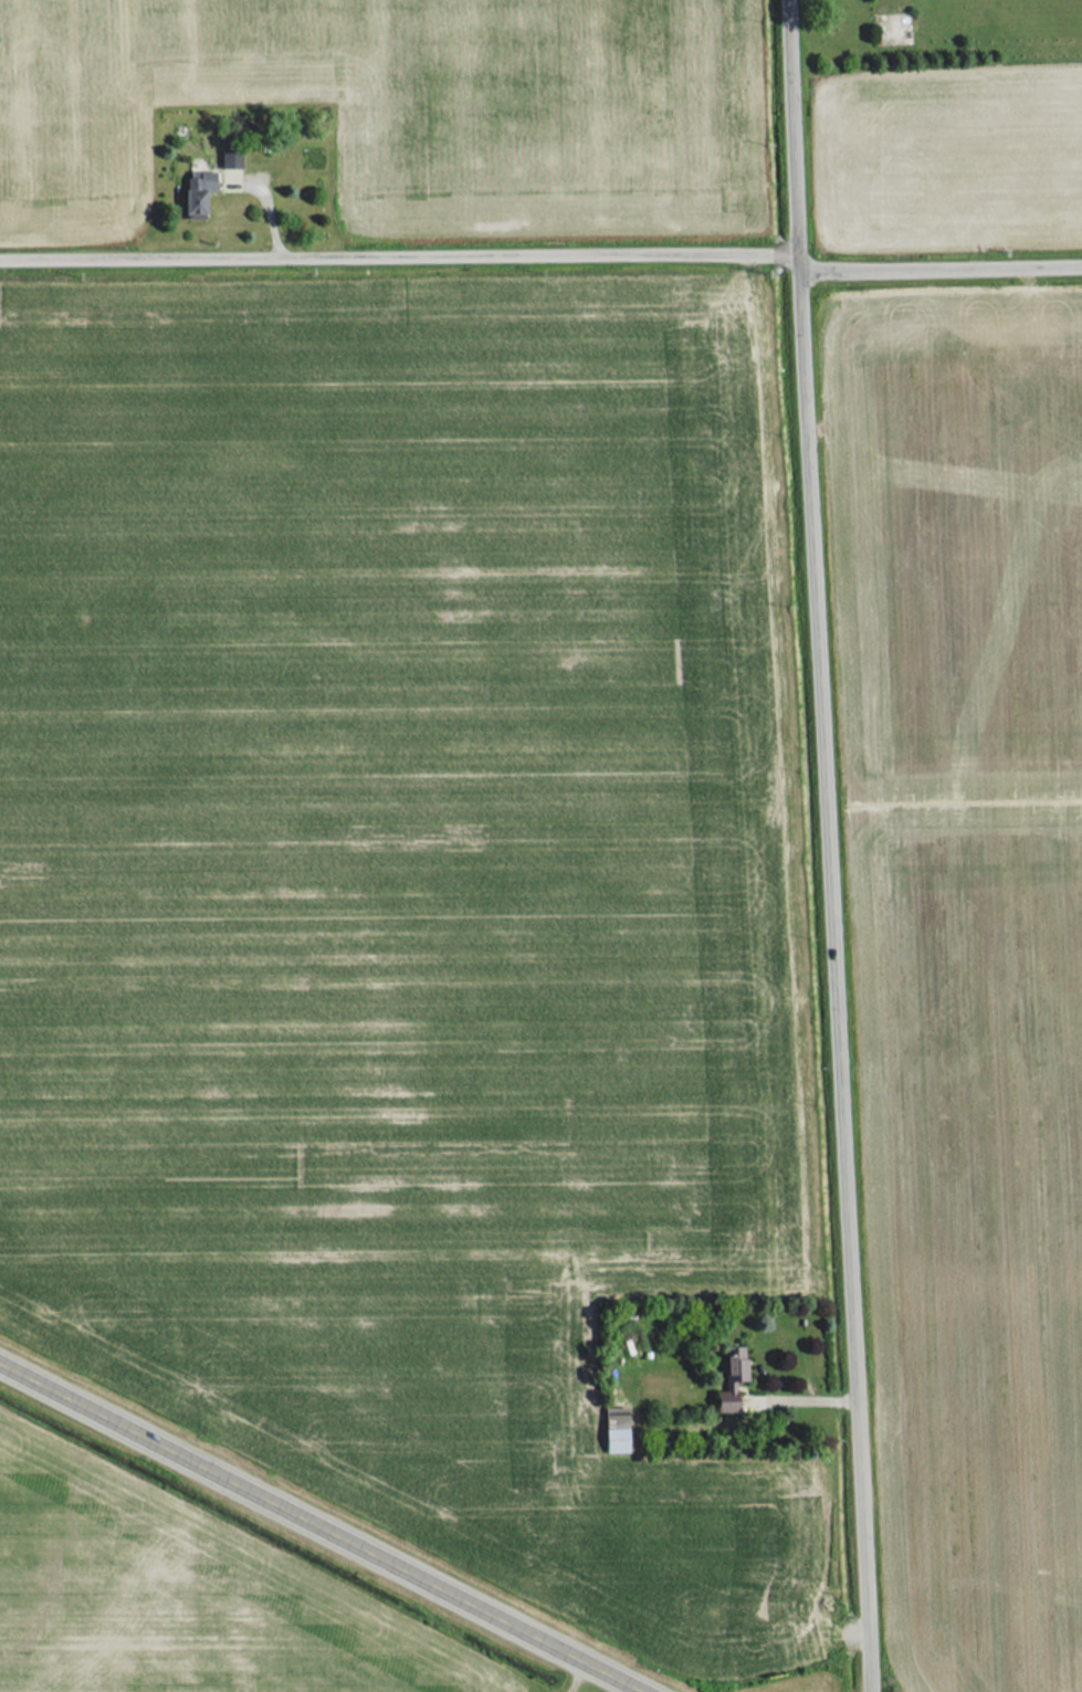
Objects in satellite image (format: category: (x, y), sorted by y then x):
building: (196, 193)
road: (401, 254)
road: (941, 265)
road: (829, 845)
crop: (408, 895)
building: (735, 1363)
building: (614, 1430)
road: (332, 1522)
crop: (181, 1600)

